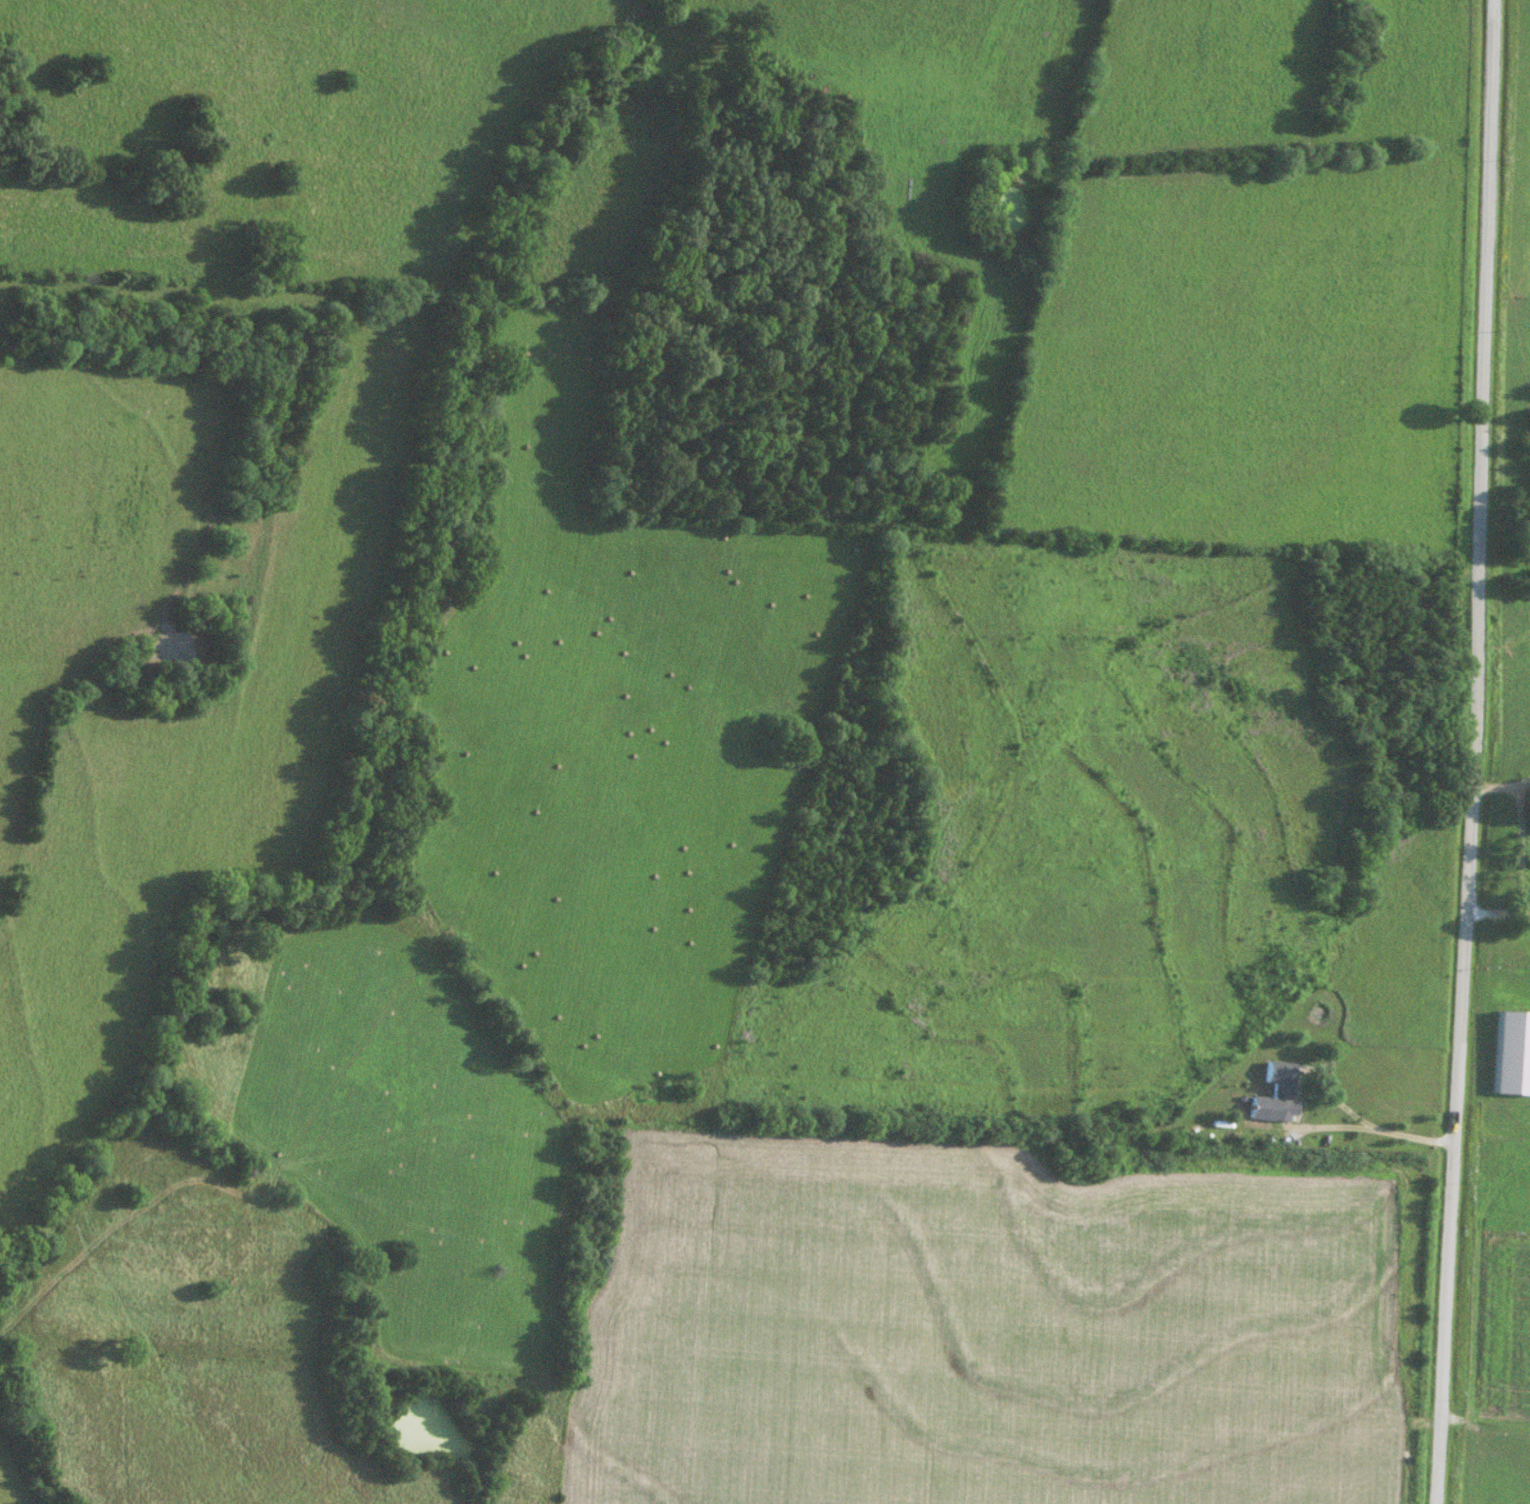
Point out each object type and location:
road: (1472, 752)
building: (1277, 1095)
road: (1376, 1126)

